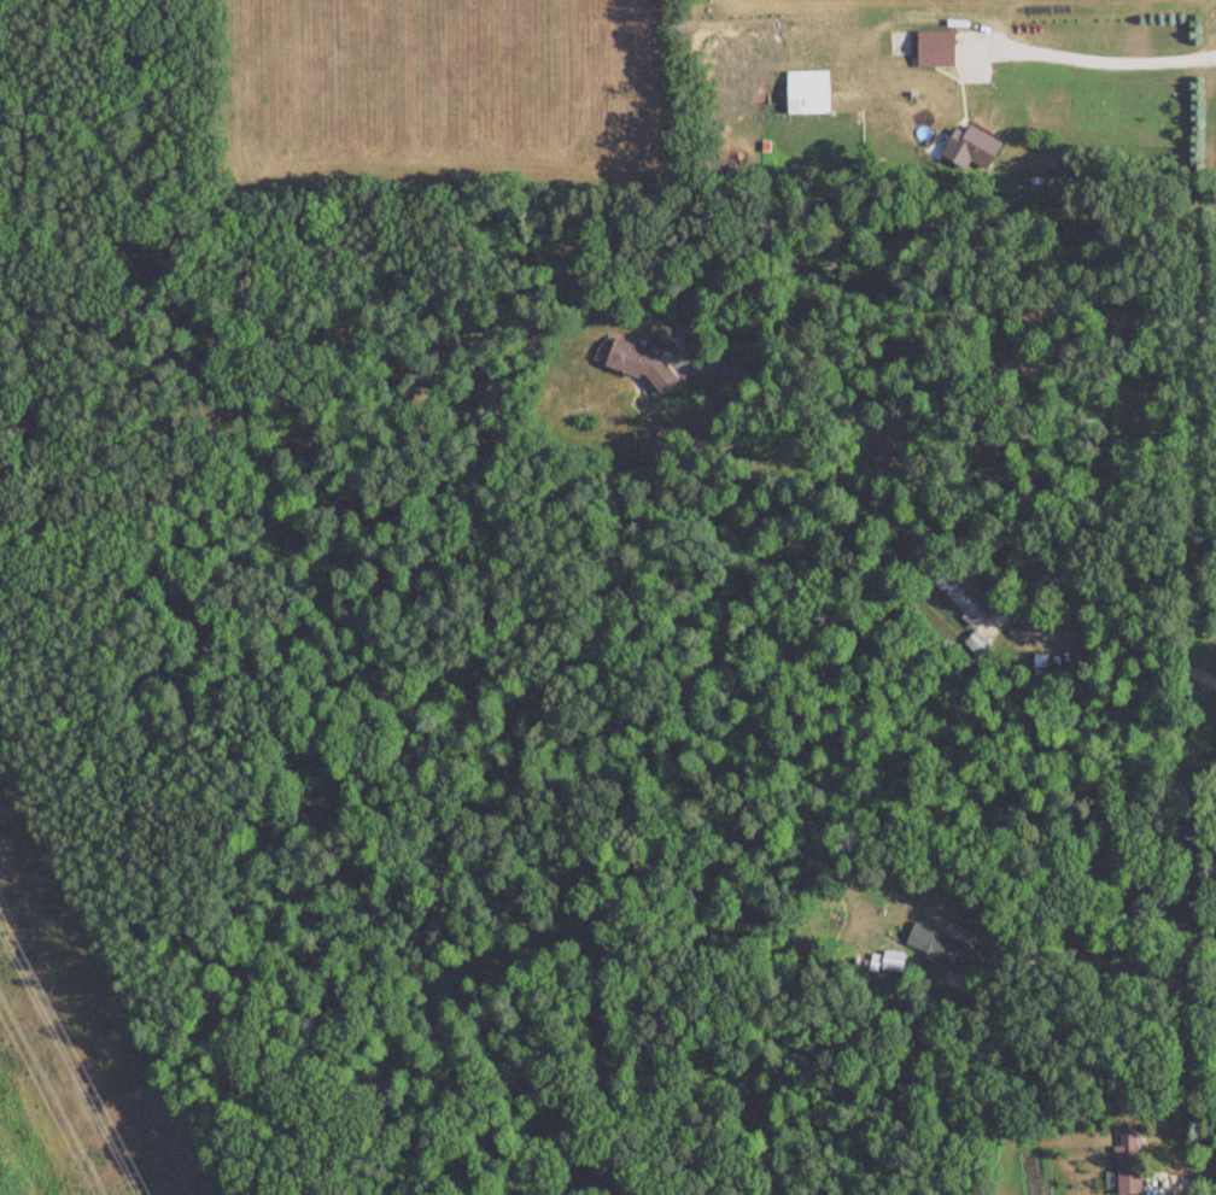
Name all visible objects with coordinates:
building: (933, 49)
road: (1105, 53)
building: (805, 93)
building: (967, 148)
building: (636, 363)
road: (959, 379)
building: (958, 602)
road: (1113, 602)
building: (1037, 667)
road: (1097, 953)
building: (1124, 1166)

